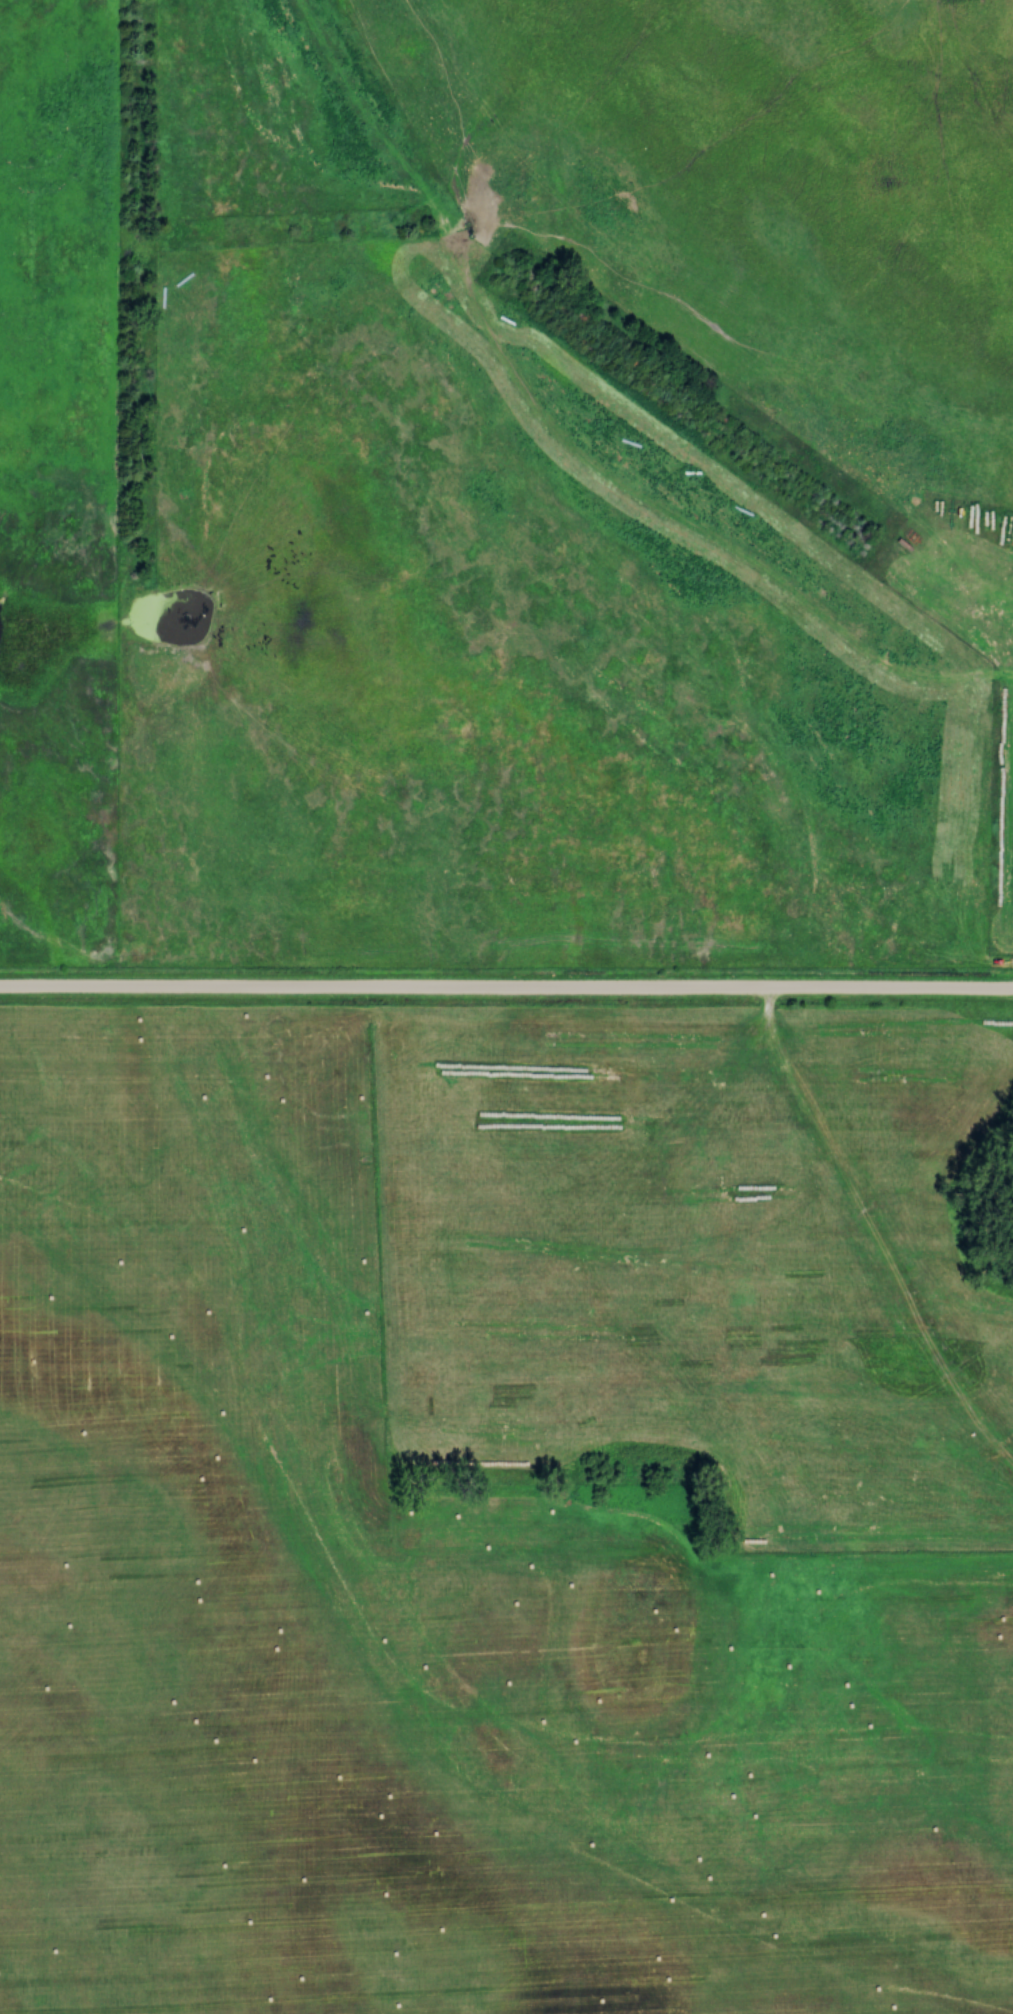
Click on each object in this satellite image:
road: (506, 992)

